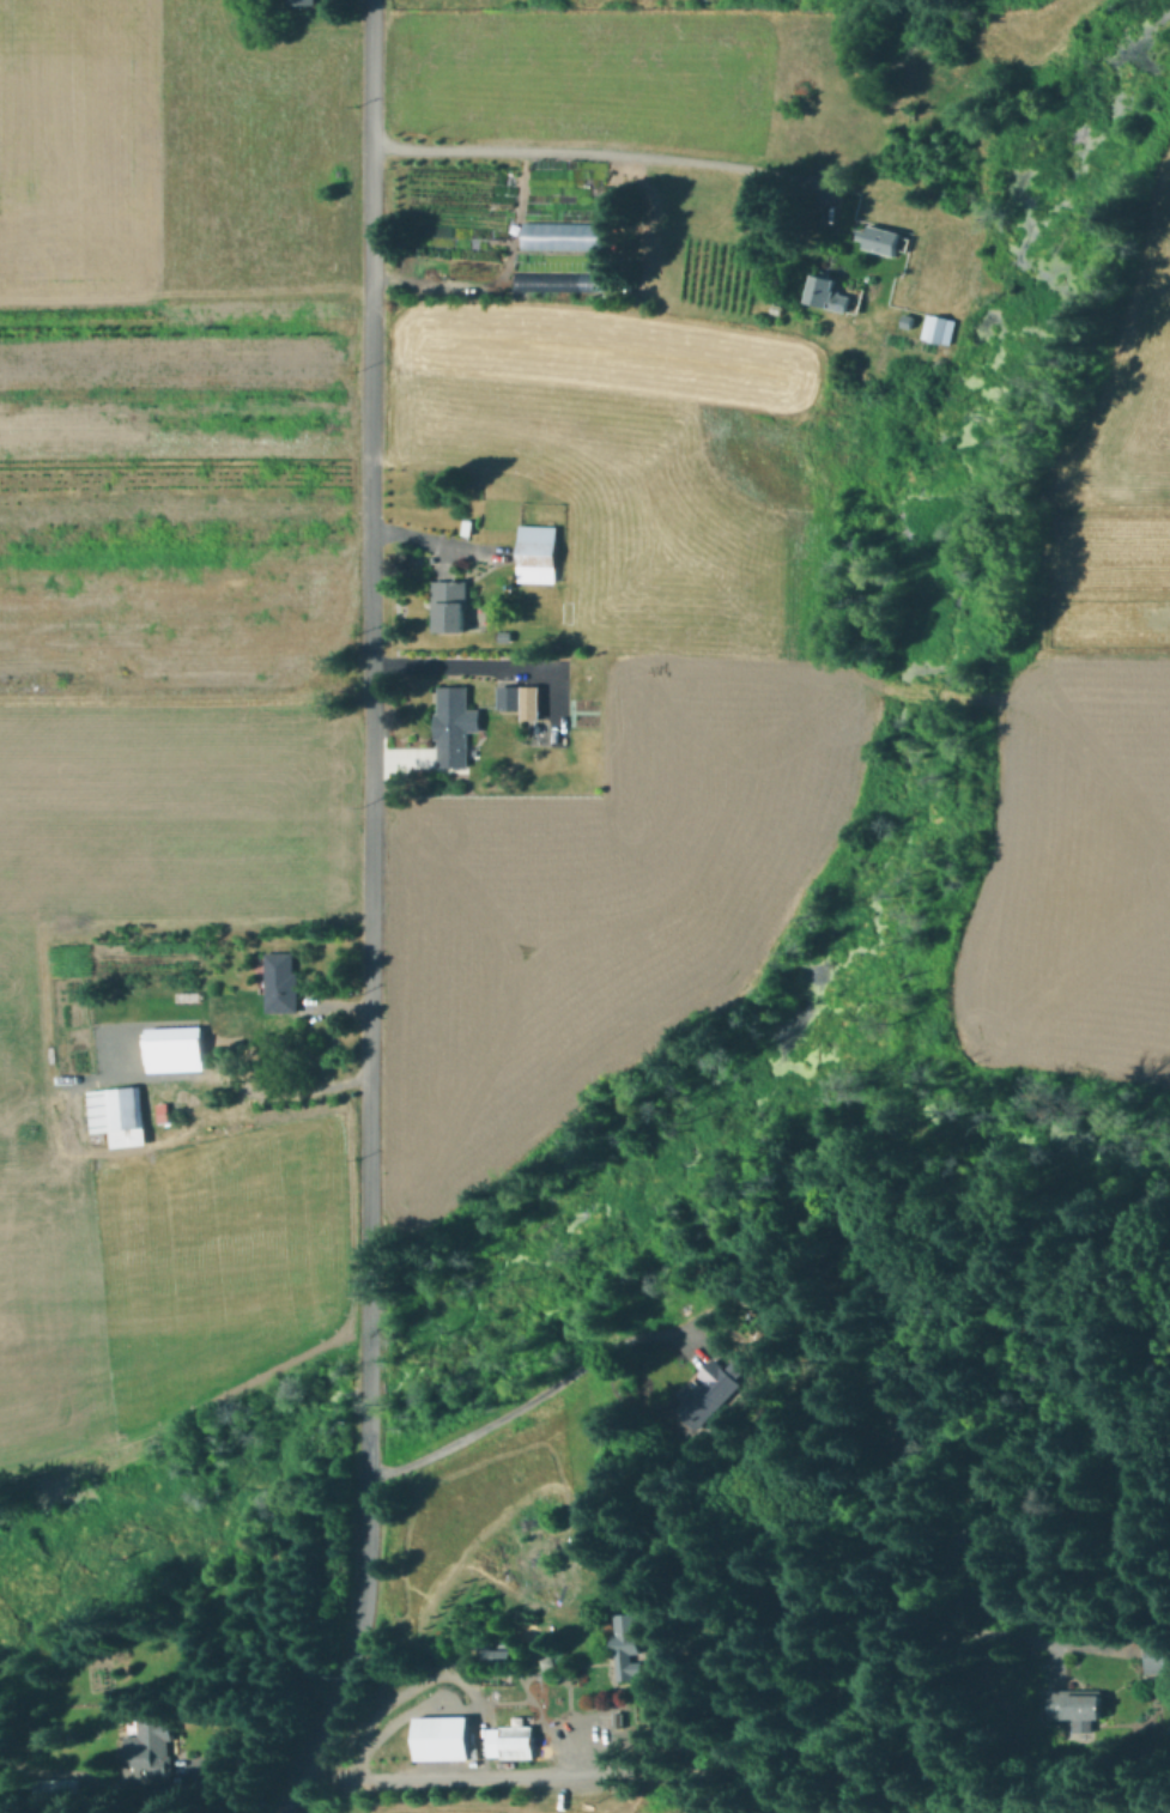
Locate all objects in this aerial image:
building: (302, 1)
road: (593, 152)
building: (884, 239)
building: (556, 285)
building: (830, 293)
building: (908, 326)
building: (930, 332)
building: (946, 335)
road: (431, 539)
building: (539, 558)
building: (451, 602)
building: (507, 635)
crop: (166, 655)
road: (493, 662)
building: (510, 697)
building: (532, 702)
building: (455, 724)
road: (371, 914)
building: (283, 983)
building: (226, 1018)
road: (241, 1081)
building: (119, 1109)
road: (538, 1393)
building: (711, 1393)
building: (915, 1409)
building: (624, 1642)
building: (1159, 1653)
building: (498, 1654)
road: (533, 1674)
road: (789, 1676)
building: (1077, 1706)
building: (444, 1738)
building: (519, 1742)
building: (153, 1751)
road: (248, 1752)
building: (61, 1787)
crop: (784, 1809)

